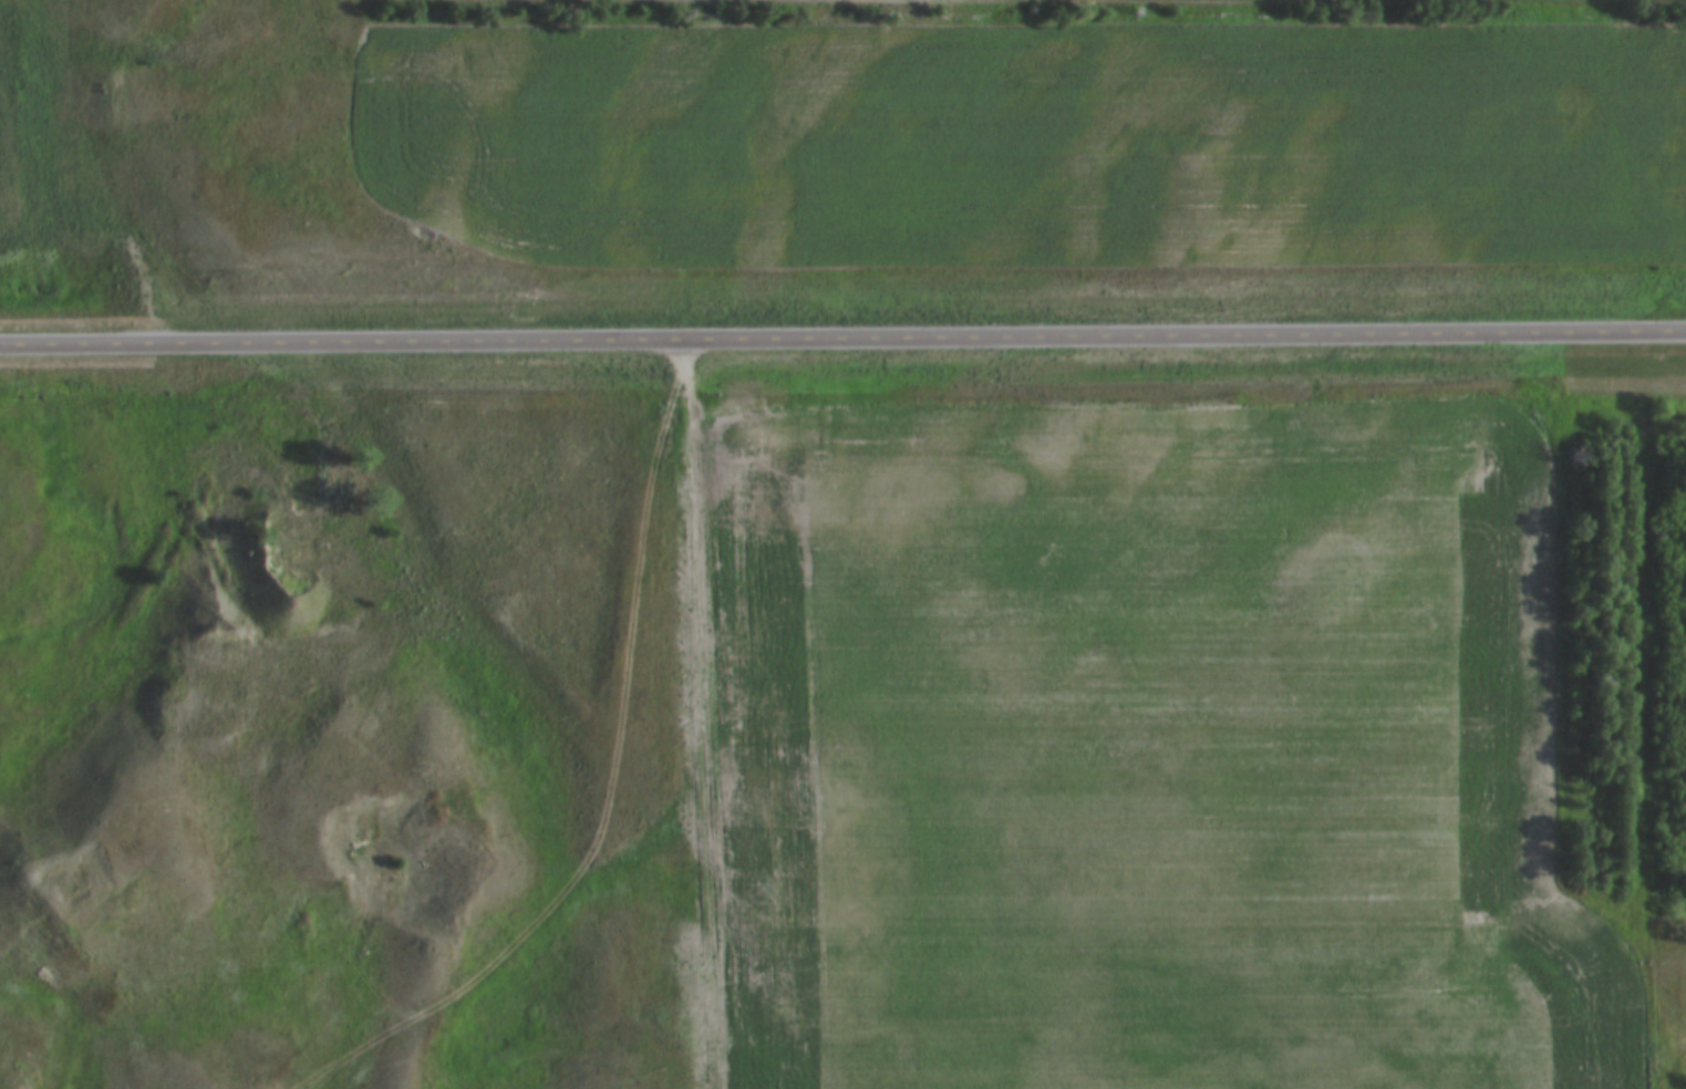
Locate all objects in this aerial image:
road: (842, 334)

